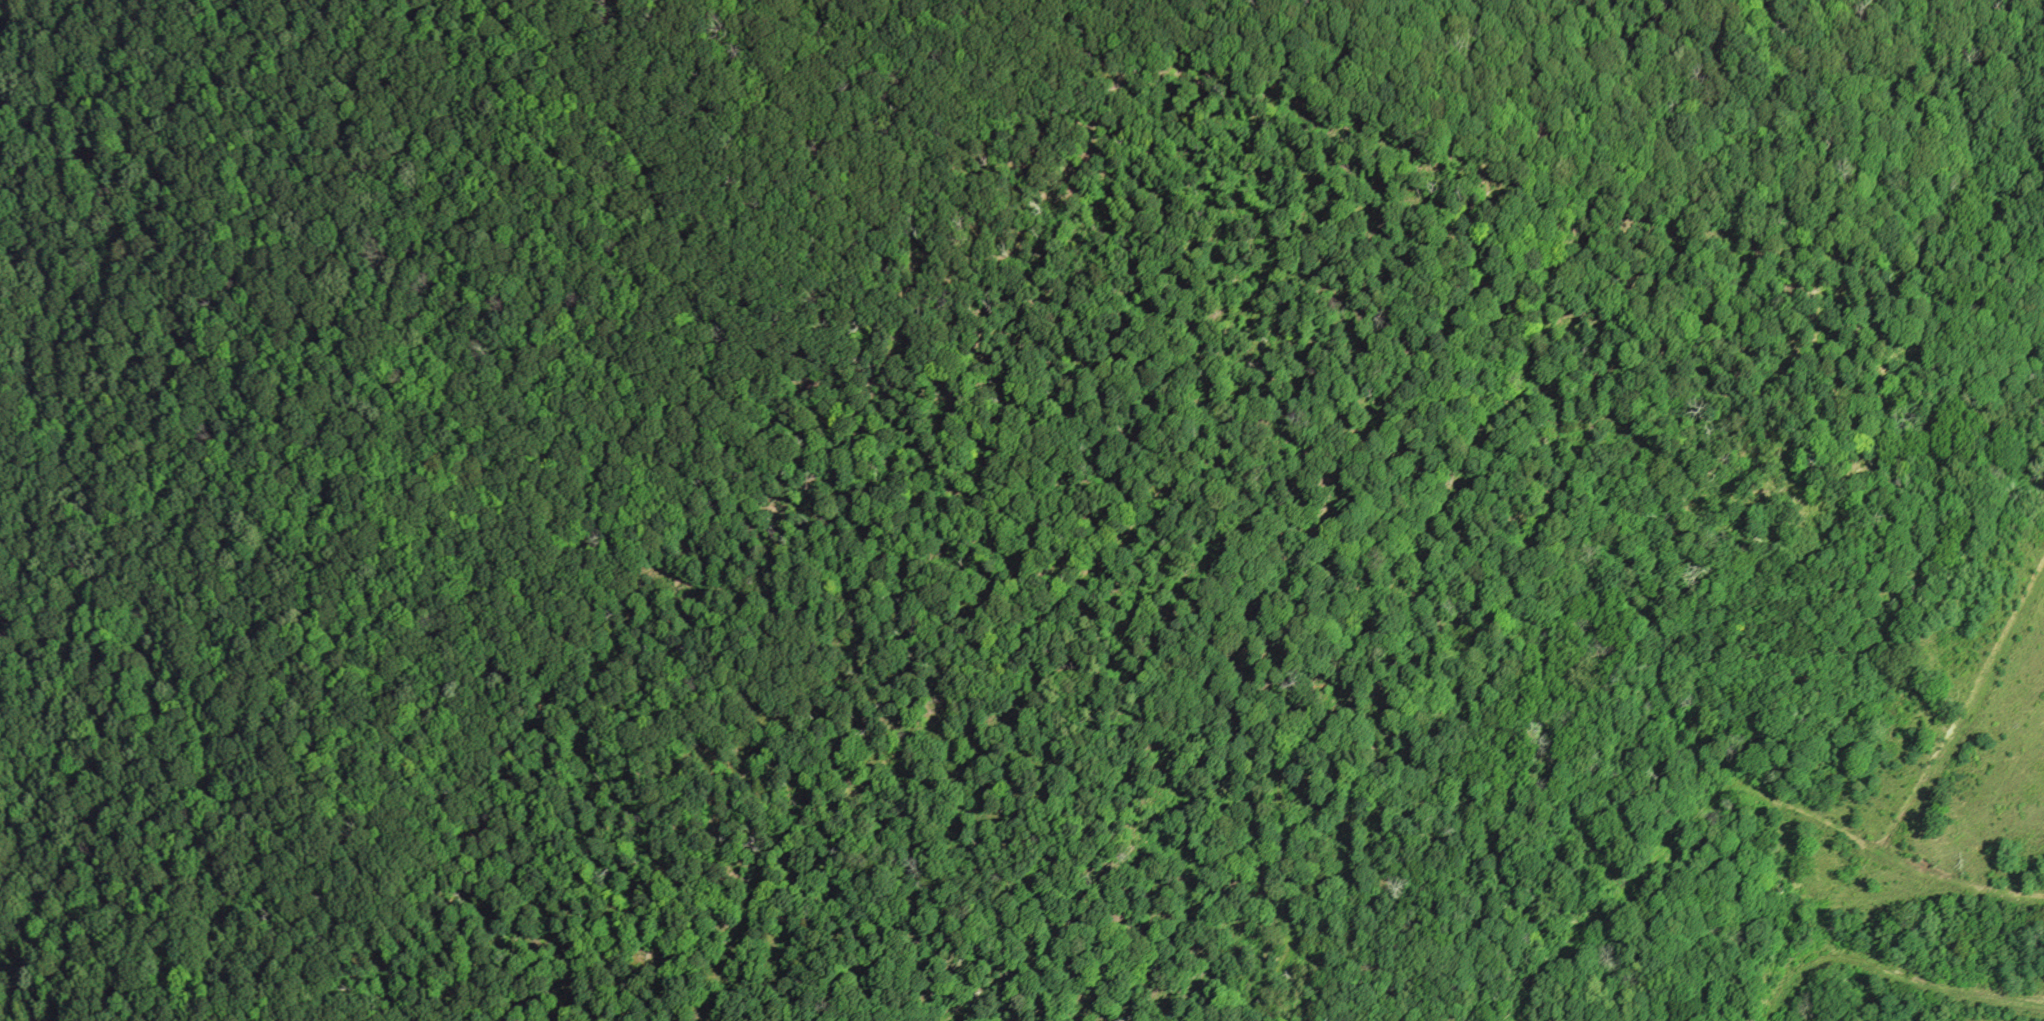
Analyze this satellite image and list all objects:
road: (1889, 966)

